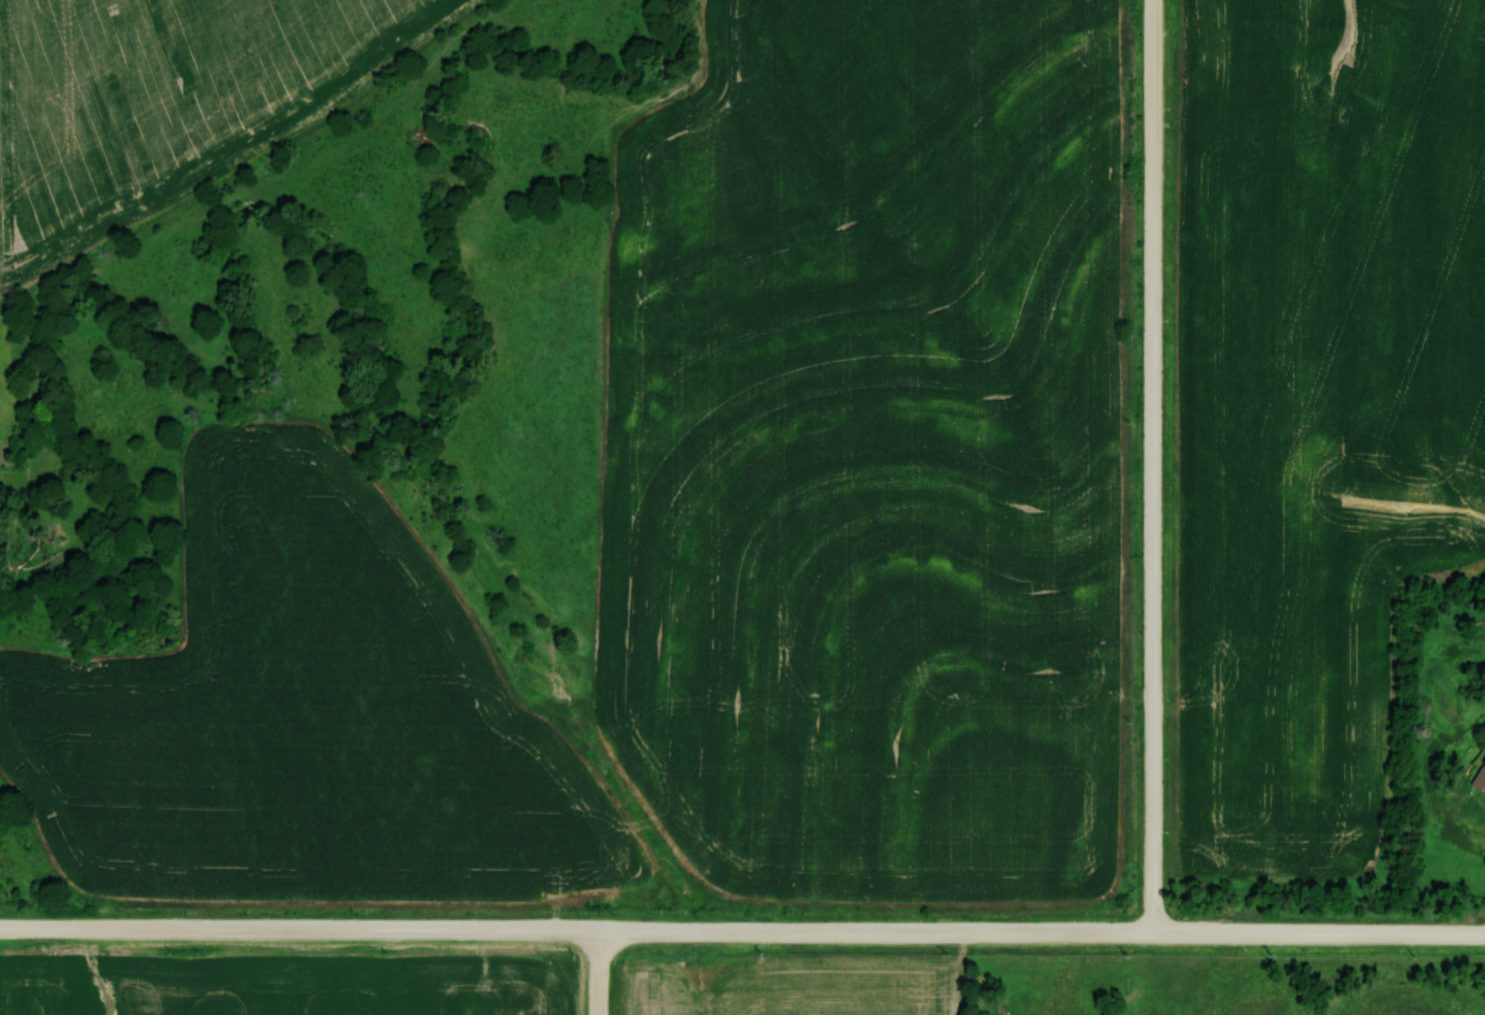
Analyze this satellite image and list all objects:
road: (1155, 467)
building: (1479, 777)
road: (742, 934)
road: (592, 974)

